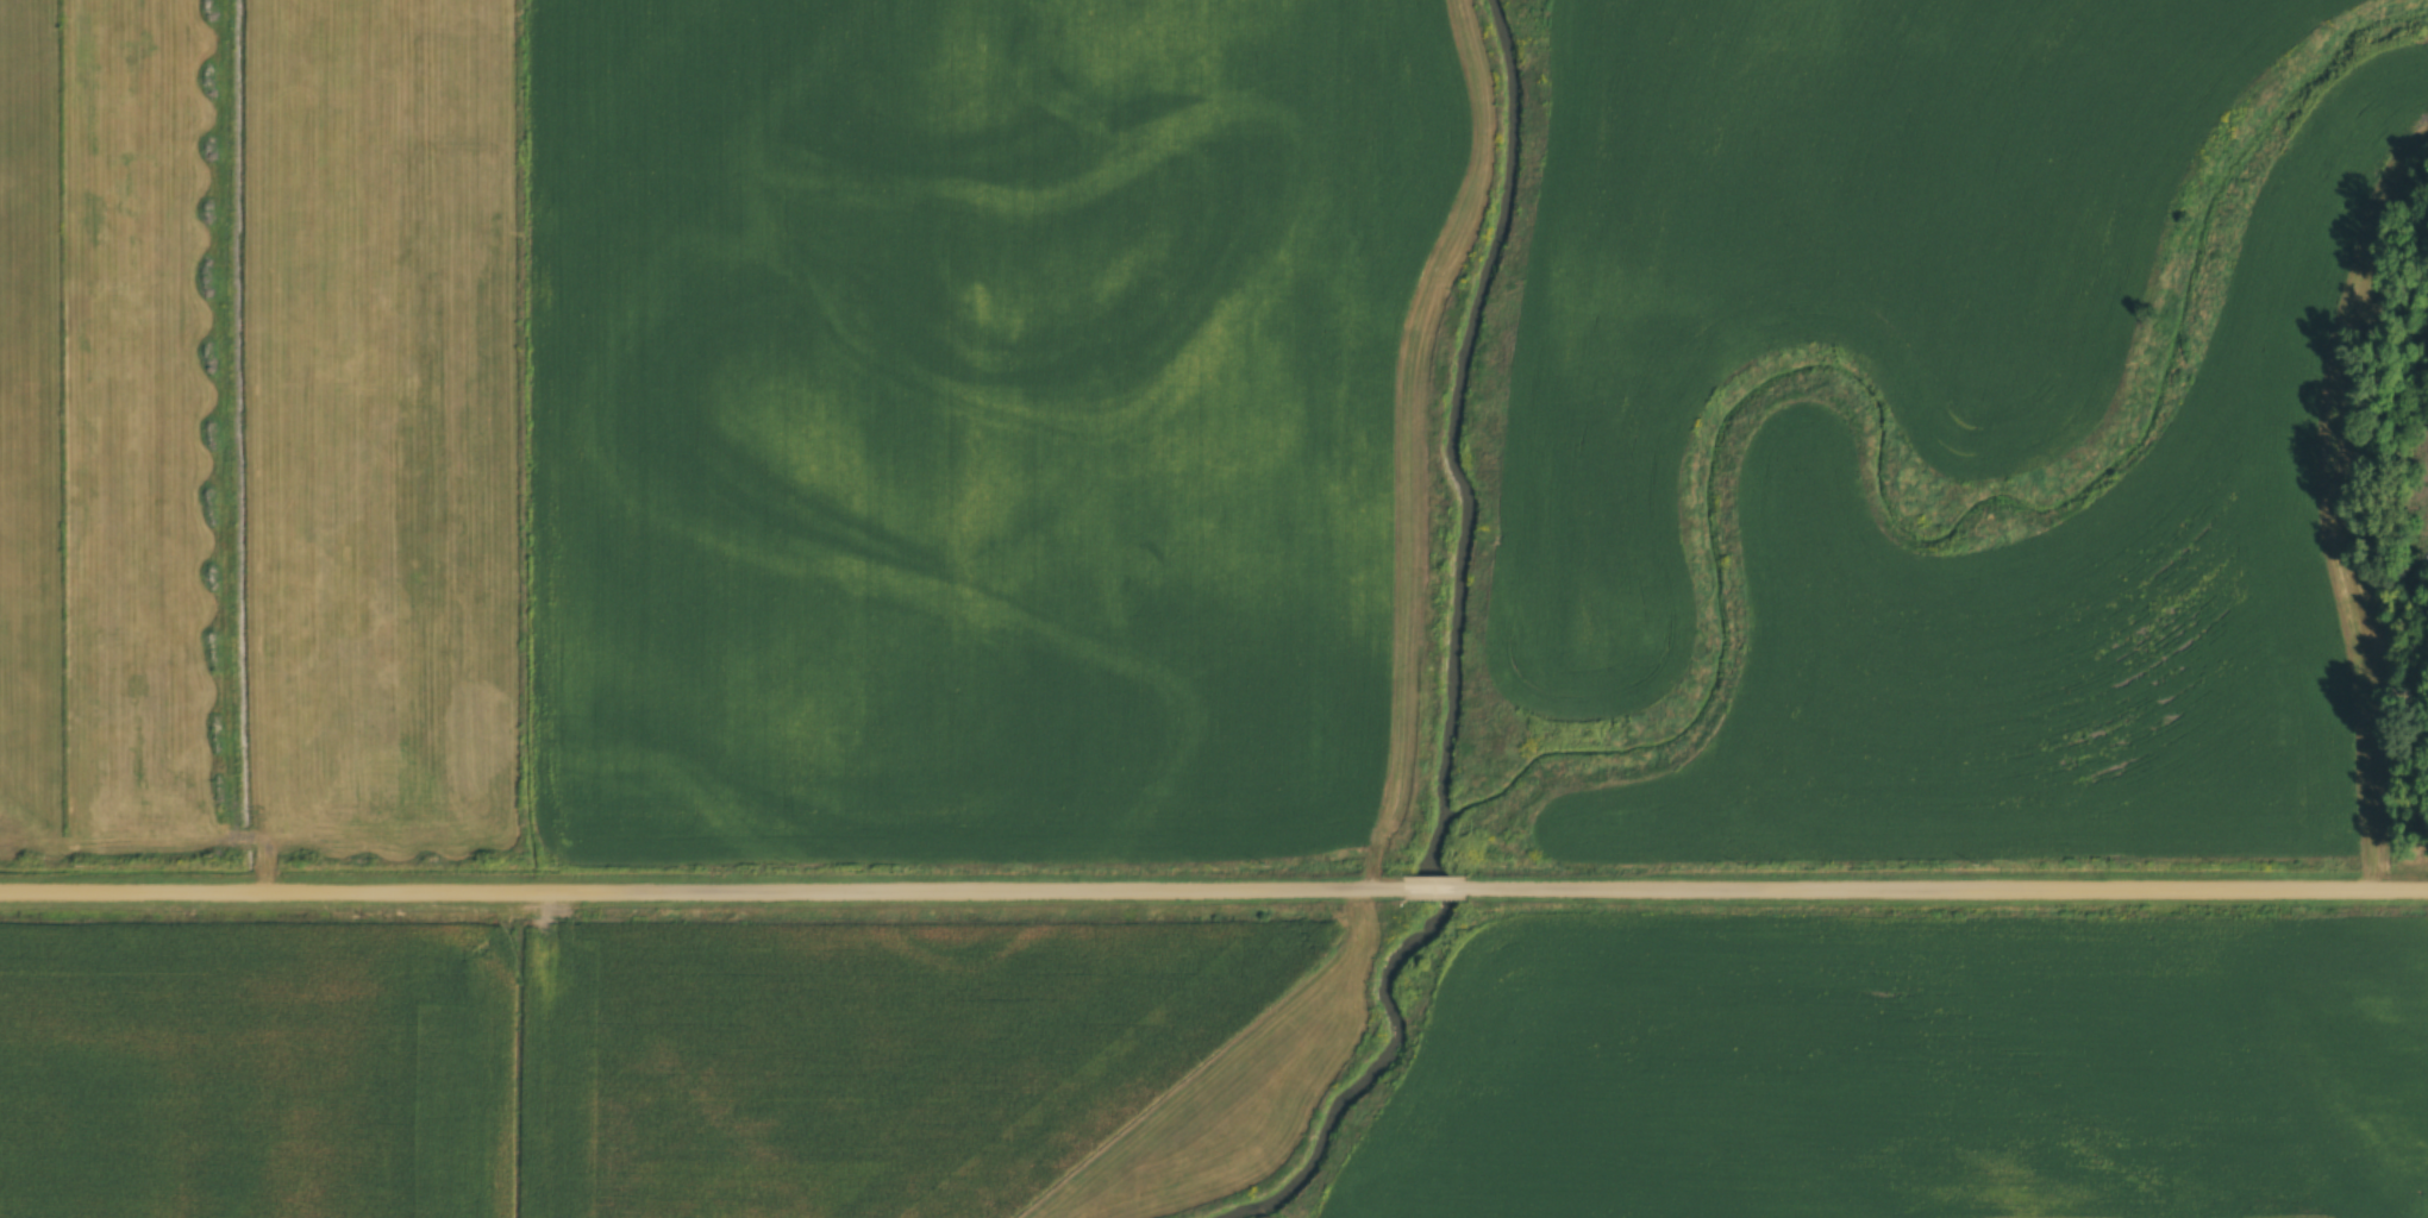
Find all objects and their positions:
road: (1951, 890)
road: (697, 891)
road: (1434, 891)

